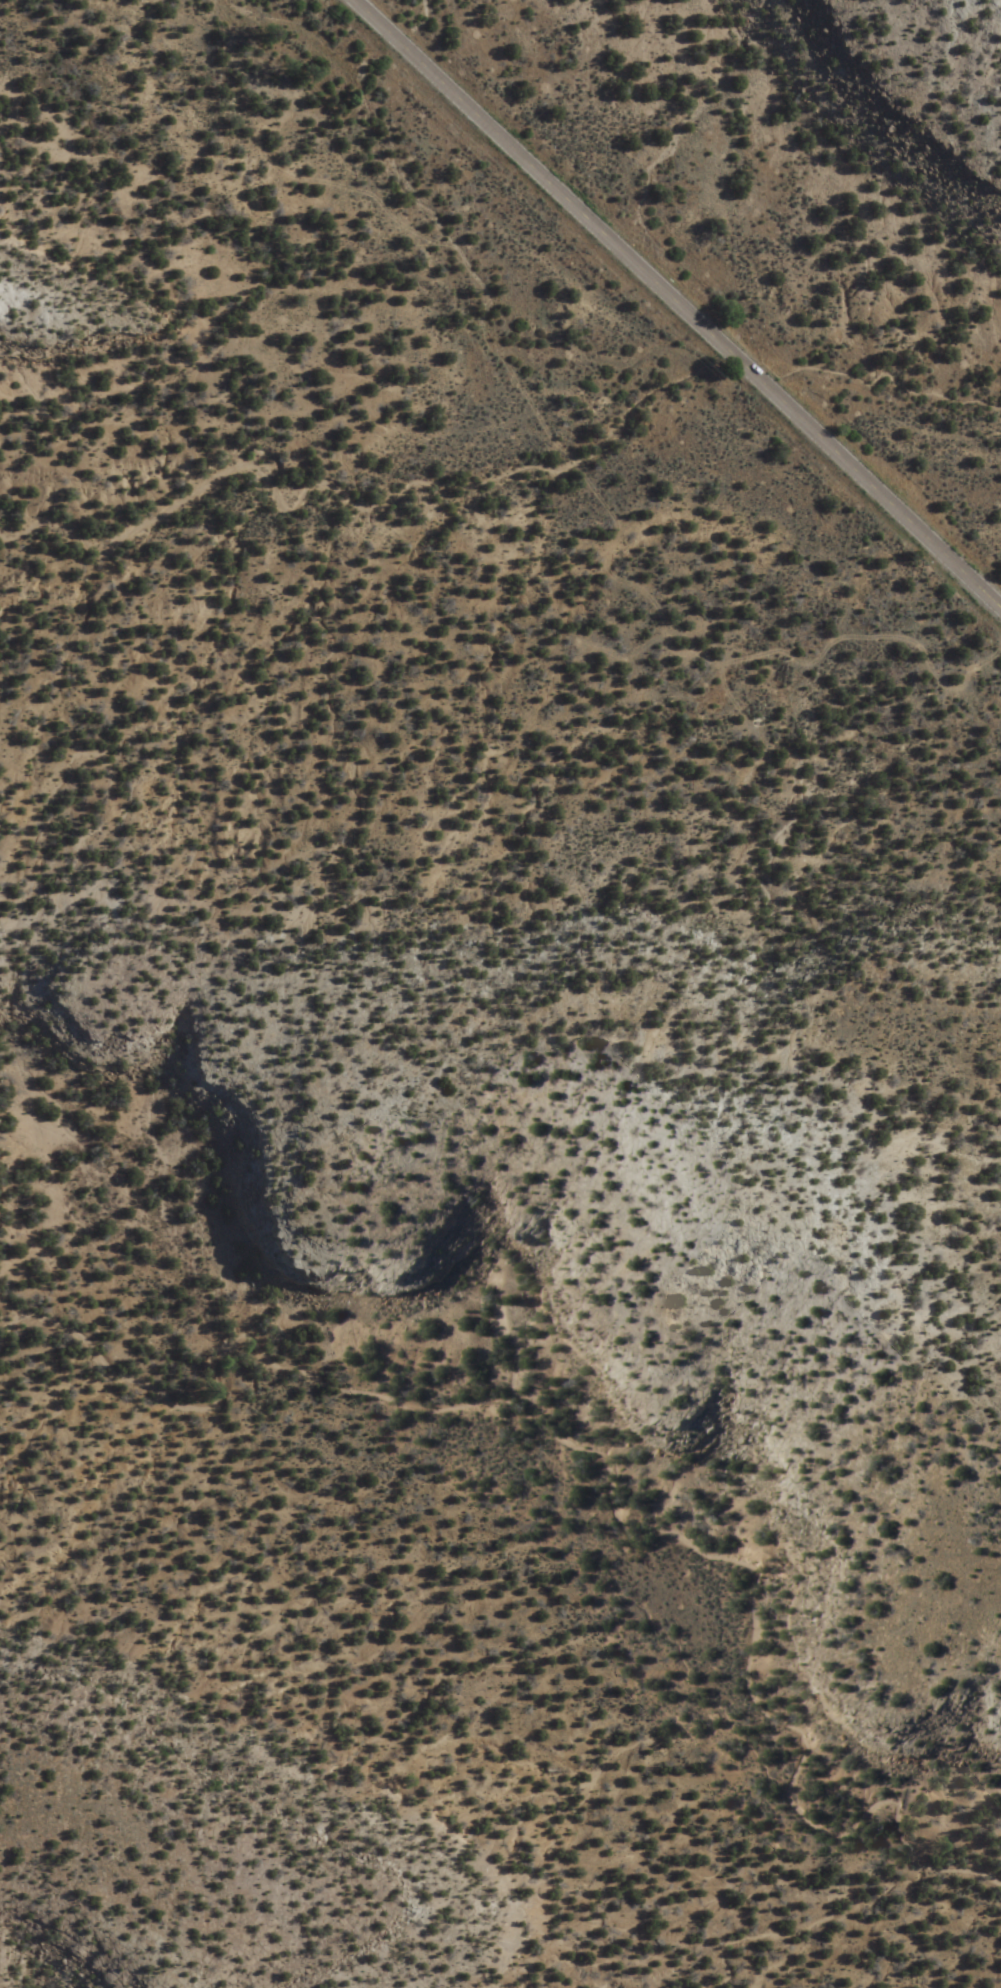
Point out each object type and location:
road: (676, 303)

